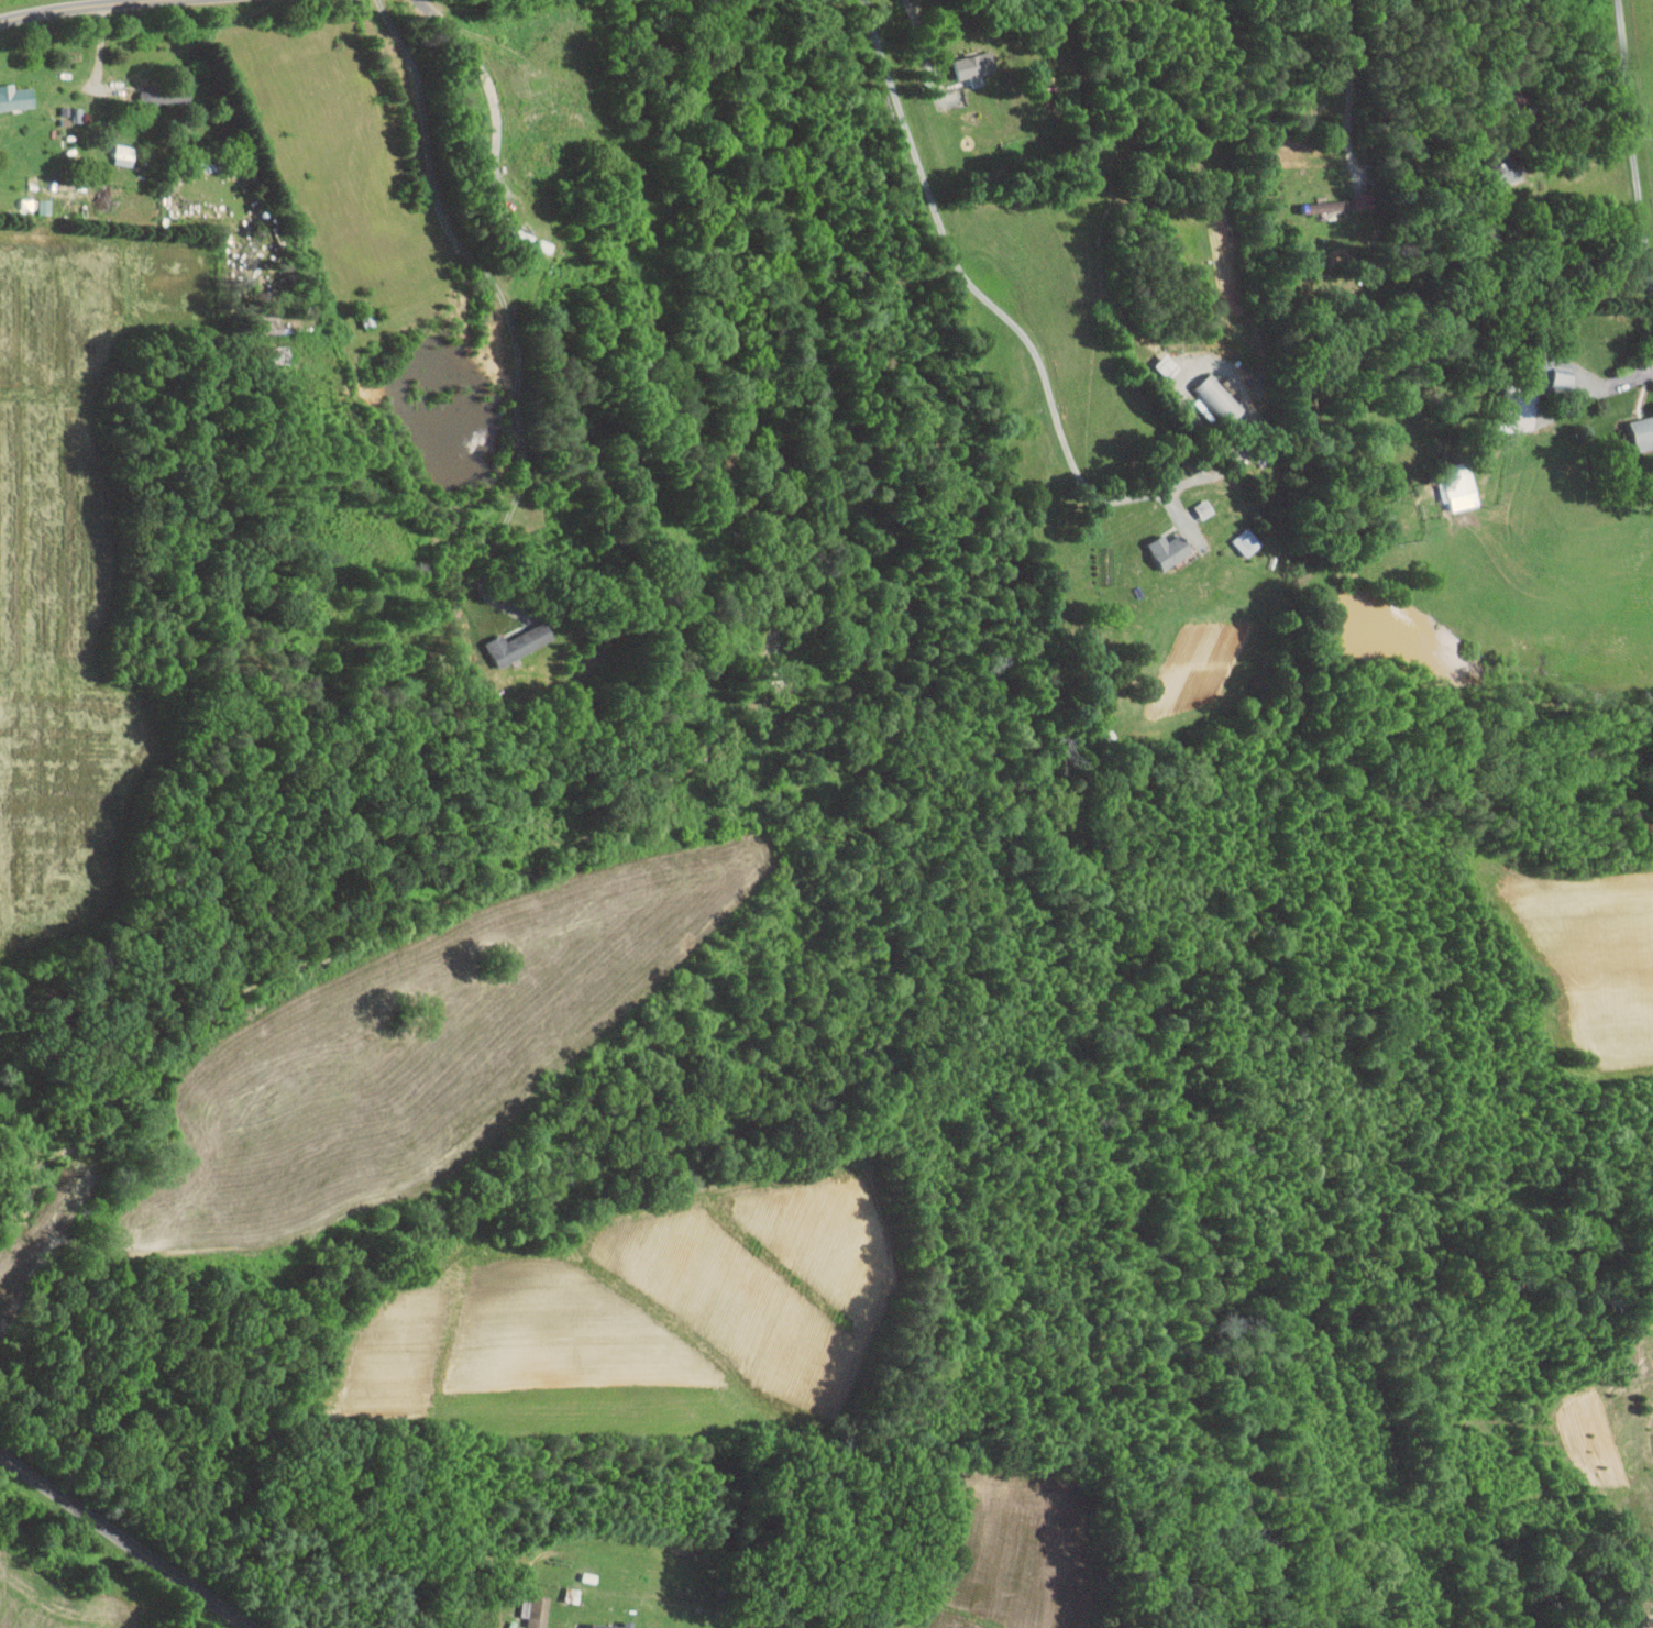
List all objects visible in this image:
road: (69, 8)
road: (913, 9)
road: (922, 33)
building: (974, 64)
road: (232, 69)
road: (488, 80)
road: (1351, 87)
building: (159, 95)
building: (15, 97)
road: (1580, 98)
building: (81, 112)
road: (1635, 139)
building: (124, 154)
building: (1357, 200)
building: (45, 206)
building: (1318, 206)
road: (505, 305)
building: (278, 354)
road: (1045, 374)
building: (1564, 378)
road: (1601, 392)
building: (1221, 398)
building: (1643, 432)
building: (1459, 485)
building: (1247, 541)
building: (1170, 549)
building: (520, 643)
road: (126, 1540)
road: (153, 1592)
building: (536, 1609)
building: (600, 1625)

